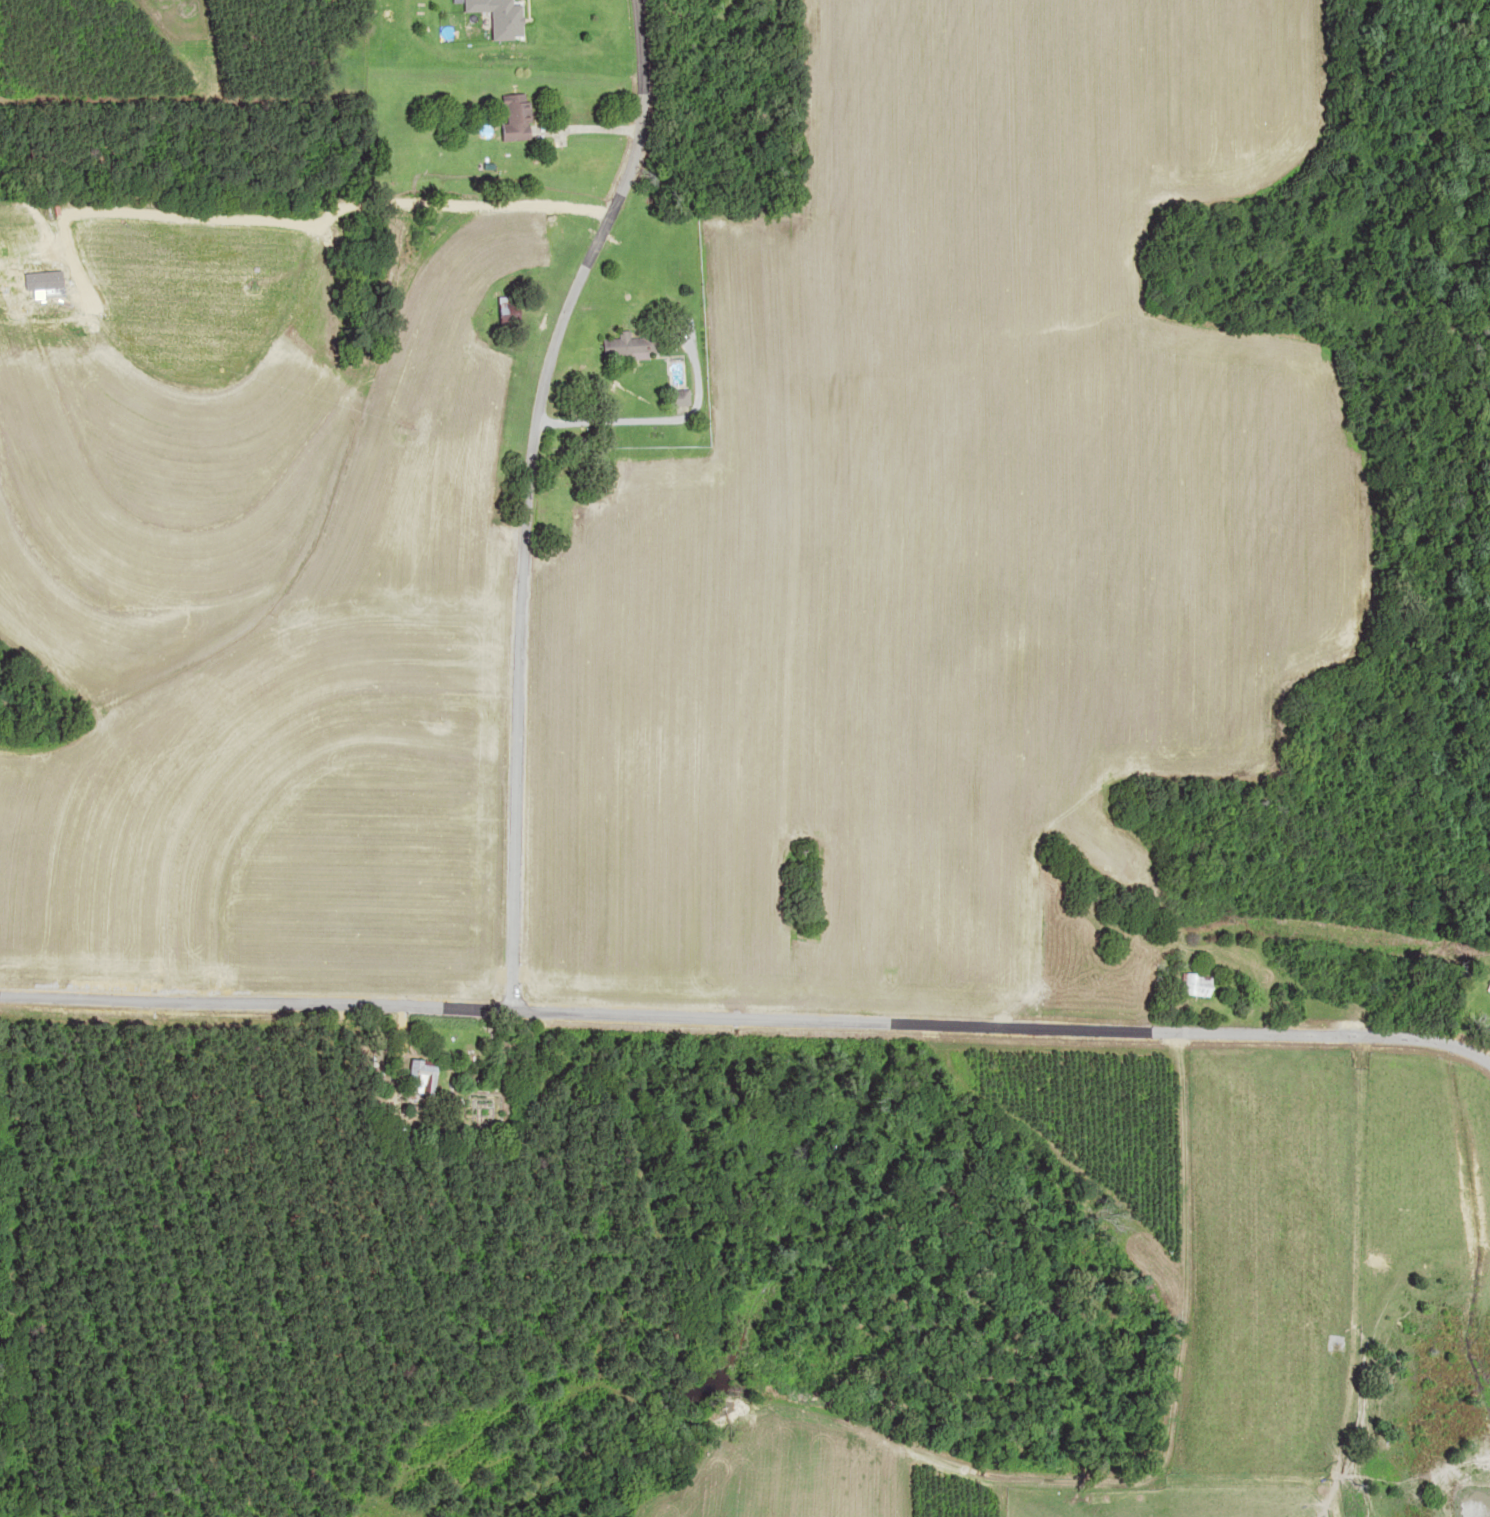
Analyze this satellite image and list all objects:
building: (498, 17)
building: (514, 116)
building: (504, 304)
building: (627, 344)
building: (676, 397)
road: (539, 503)
building: (1196, 985)
building: (1487, 985)
road: (745, 1038)
road: (1482, 1071)
building: (421, 1079)

